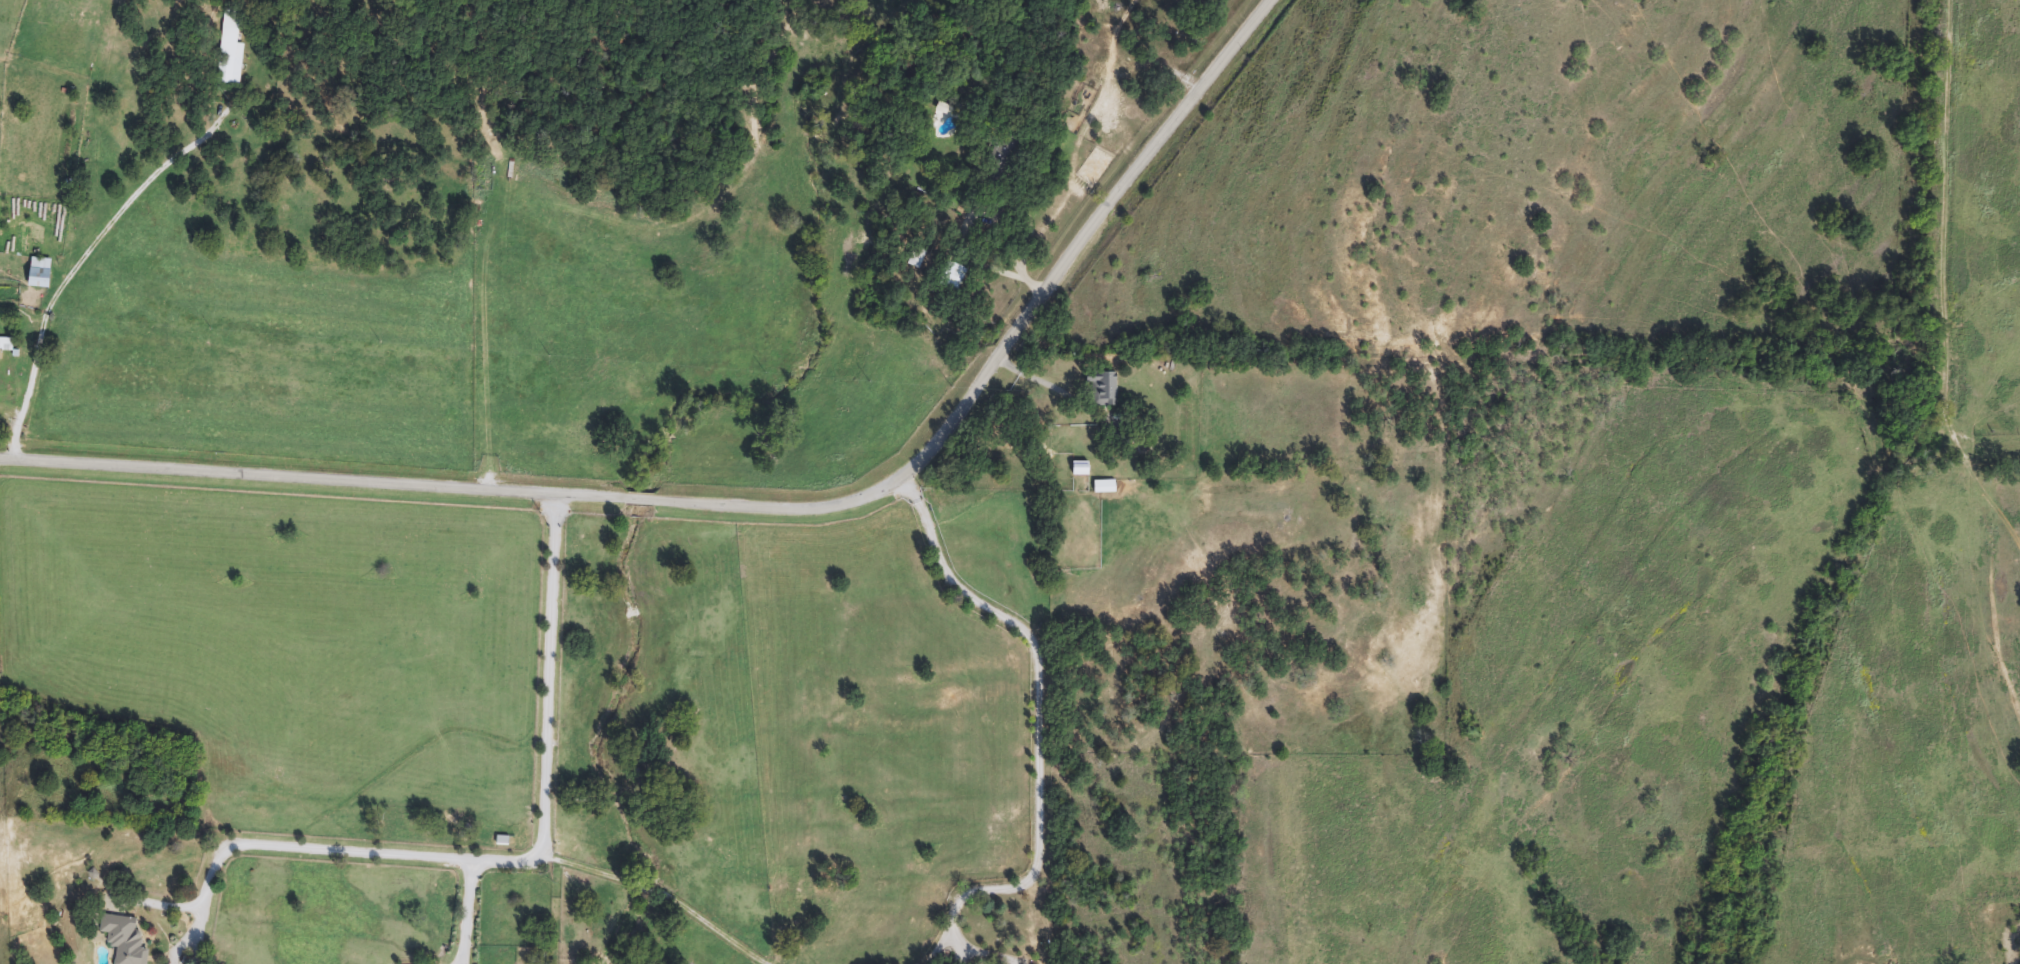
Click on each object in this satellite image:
building: (231, 58)
road: (118, 213)
road: (1011, 252)
building: (916, 259)
building: (42, 273)
building: (949, 276)
road: (1939, 288)
building: (2, 362)
building: (1103, 390)
road: (28, 393)
building: (1078, 468)
building: (1103, 487)
road: (758, 514)
road: (1039, 722)
road: (518, 867)
road: (656, 892)
road: (467, 915)
building: (125, 940)

